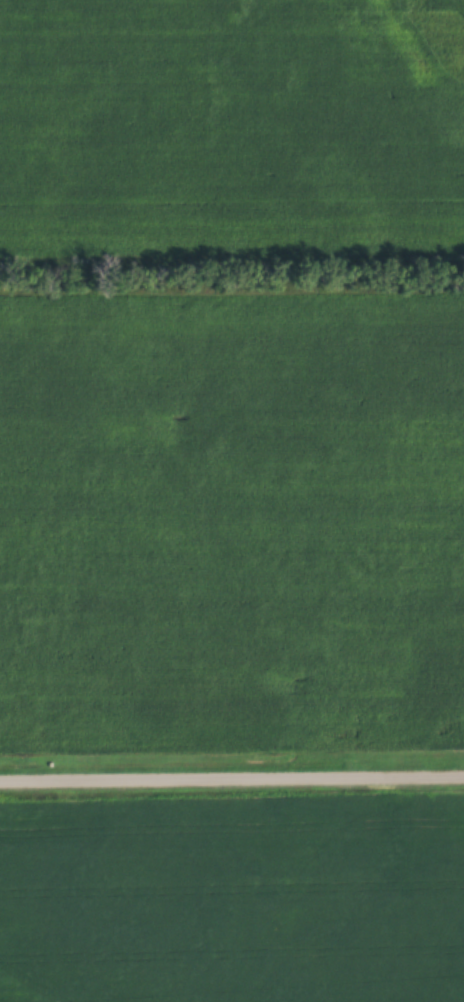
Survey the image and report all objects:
road: (232, 775)

